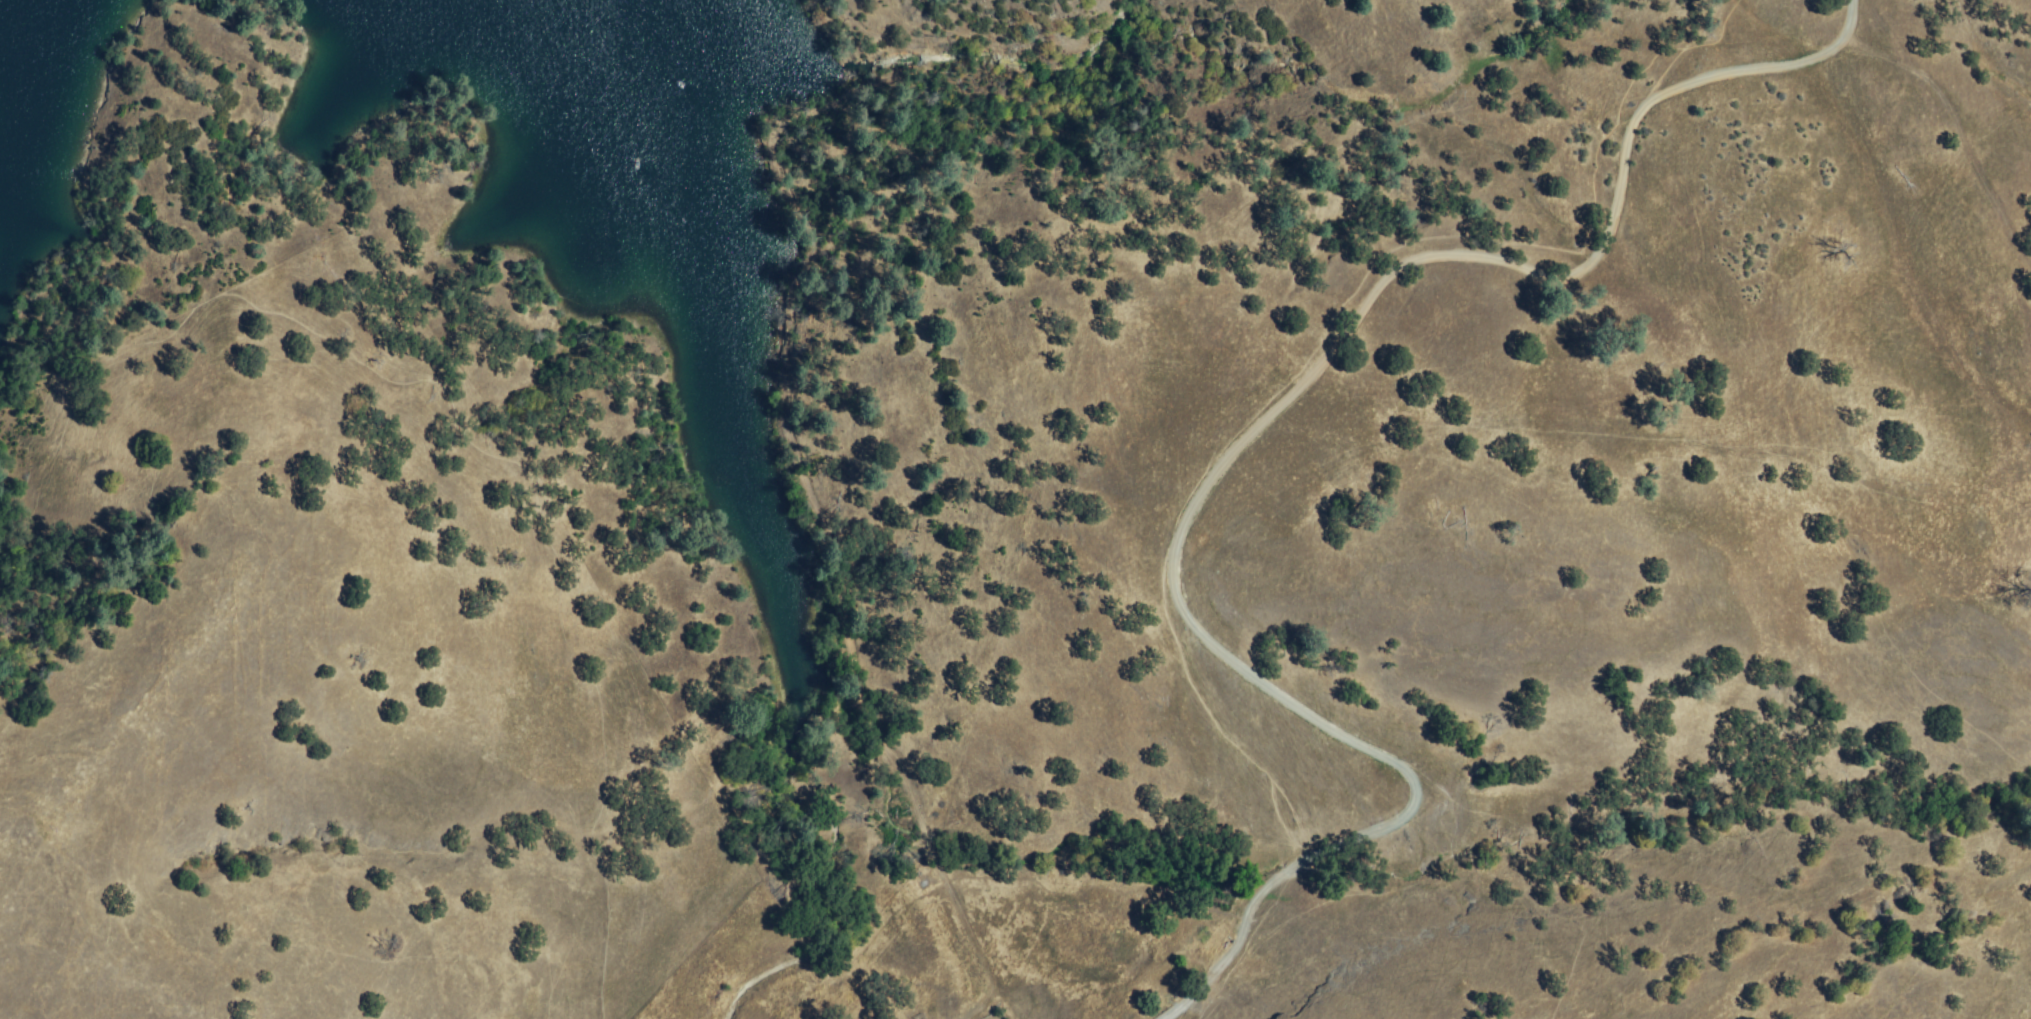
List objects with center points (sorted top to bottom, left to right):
road: (1246, 439)

